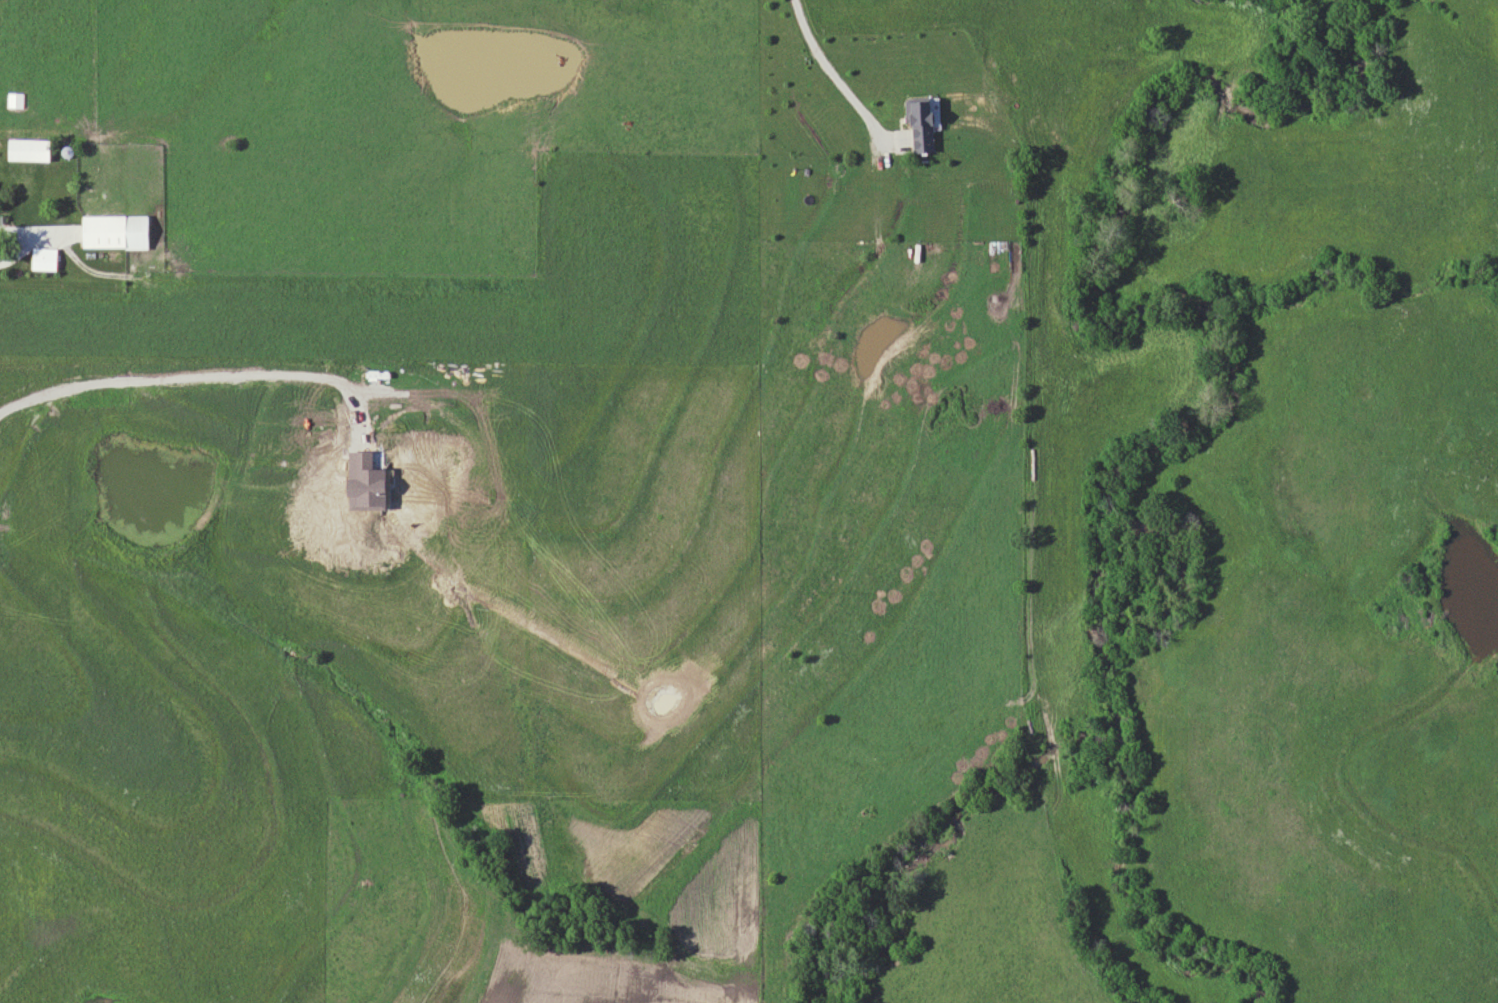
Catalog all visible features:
building: (15, 100)
building: (918, 124)
building: (26, 150)
building: (113, 231)
road: (25, 246)
building: (43, 261)

